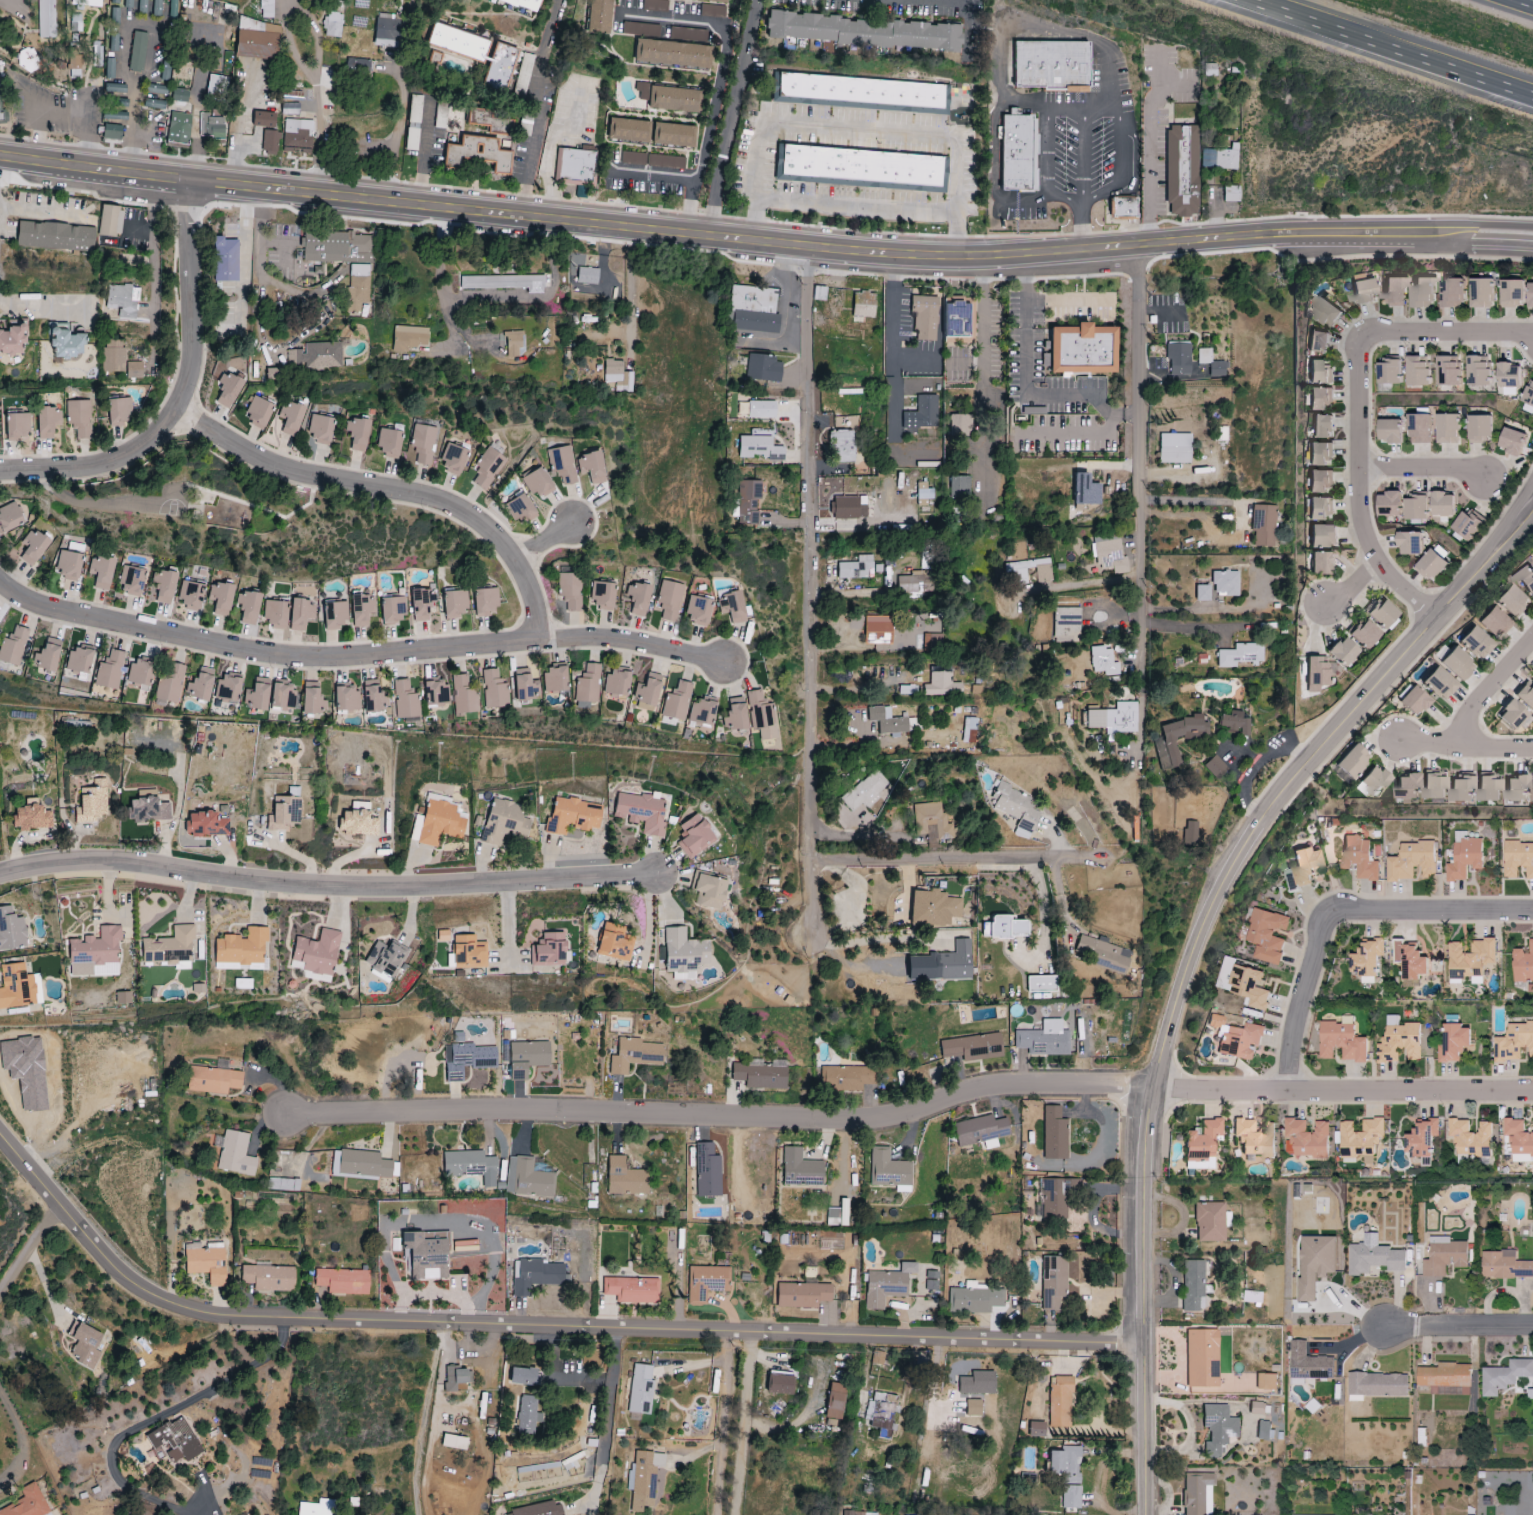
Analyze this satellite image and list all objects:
building: (114, 1)
building: (717, 1)
building: (89, 3)
building: (128, 3)
building: (527, 3)
road: (1520, 4)
building: (143, 6)
building: (157, 7)
building: (173, 8)
building: (266, 9)
building: (601, 15)
building: (45, 19)
building: (333, 25)
road: (160, 27)
building: (866, 31)
building: (387, 32)
building: (460, 41)
building: (259, 42)
road: (1391, 47)
building: (138, 52)
building: (674, 54)
building: (501, 65)
building: (1048, 65)
building: (74, 66)
building: (110, 68)
building: (357, 68)
building: (523, 75)
building: (326, 77)
road: (722, 82)
building: (217, 88)
building: (859, 90)
road: (318, 91)
building: (675, 99)
road: (404, 100)
road: (539, 106)
building: (290, 108)
building: (1184, 111)
building: (483, 117)
road: (731, 117)
building: (264, 119)
road: (236, 125)
building: (211, 126)
building: (180, 128)
road: (858, 128)
building: (630, 130)
building: (112, 132)
building: (675, 135)
building: (297, 136)
street lamp: (26, 139)
building: (269, 143)
road: (1149, 150)
road: (551, 151)
building: (479, 154)
building: (1012, 154)
road: (1083, 155)
building: (1227, 158)
building: (577, 166)
building: (857, 168)
building: (1183, 170)
road: (656, 179)
street lamp: (471, 187)
road: (1045, 193)
building: (1232, 193)
street lamp: (577, 198)
road: (1022, 198)
road: (854, 205)
road: (40, 209)
street lamp: (674, 209)
building: (1120, 209)
street lamp: (220, 213)
building: (110, 220)
road: (1082, 224)
building: (56, 236)
road: (764, 240)
building: (336, 247)
road: (244, 253)
building: (226, 260)
road: (153, 271)
building: (587, 276)
road: (440, 279)
building: (504, 283)
building: (357, 286)
building: (1366, 291)
building: (1400, 291)
building: (1428, 292)
building: (1458, 292)
building: (1488, 292)
building: (819, 293)
building: (1520, 293)
building: (123, 300)
building: (864, 304)
road: (40, 305)
building: (754, 309)
building: (1332, 310)
building: (925, 318)
building: (957, 319)
road: (891, 322)
road: (1450, 336)
building: (409, 338)
building: (13, 339)
building: (1322, 341)
building: (67, 343)
building: (514, 343)
building: (1081, 349)
building: (113, 356)
building: (316, 356)
building: (1179, 358)
building: (1212, 363)
building: (764, 368)
building: (134, 370)
building: (1483, 370)
building: (1393, 371)
building: (1423, 371)
building: (1453, 371)
building: (1324, 372)
building: (1513, 375)
building: (618, 376)
road: (985, 376)
road: (1026, 380)
road: (180, 390)
building: (228, 390)
building: (1530, 395)
building: (1324, 399)
building: (762, 410)
building: (259, 411)
building: (120, 412)
building: (920, 414)
building: (79, 418)
building: (291, 418)
building: (48, 421)
building: (960, 425)
building: (1327, 425)
building: (17, 426)
building: (1487, 427)
building: (1426, 428)
building: (1454, 428)
building: (321, 429)
building: (1397, 430)
building: (358, 434)
building: (1519, 441)
building: (390, 442)
building: (423, 444)
building: (843, 447)
building: (759, 448)
building: (1174, 448)
road: (1138, 453)
building: (1323, 454)
building: (455, 458)
building: (563, 465)
building: (593, 467)
building: (489, 468)
road: (1432, 471)
building: (1322, 481)
building: (539, 483)
building: (959, 487)
building: (1086, 490)
road: (386, 491)
road: (1366, 492)
building: (924, 494)
building: (748, 501)
road: (1193, 502)
building: (1394, 503)
building: (1448, 504)
building: (1420, 506)
building: (524, 508)
building: (849, 508)
building: (1322, 509)
building: (10, 517)
building: (1472, 524)
building: (1264, 525)
building: (1328, 536)
road: (542, 542)
building: (1416, 543)
building: (34, 547)
building: (1110, 556)
building: (1326, 563)
building: (1439, 564)
building: (69, 565)
building: (857, 568)
building: (101, 572)
building: (1016, 574)
building: (132, 580)
building: (915, 583)
road: (1087, 583)
building: (1225, 583)
building: (164, 587)
road: (811, 588)
road: (1361, 589)
building: (570, 592)
building: (1202, 593)
building: (191, 594)
building: (603, 595)
building: (222, 598)
building: (639, 599)
building: (670, 600)
building: (1515, 600)
building: (486, 602)
building: (423, 604)
building: (455, 604)
building: (250, 607)
building: (733, 607)
building: (362, 609)
building: (393, 610)
building: (699, 610)
building: (277, 614)
building: (302, 614)
building: (336, 614)
building: (1385, 614)
building: (1497, 622)
building: (1066, 625)
building: (879, 630)
building: (1367, 635)
building: (933, 641)
building: (1478, 642)
building: (14, 646)
building: (1346, 651)
building: (48, 655)
building: (1241, 656)
road: (358, 659)
building: (80, 660)
building: (1103, 661)
building: (1460, 664)
building: (110, 670)
building: (141, 673)
building: (1319, 674)
building: (556, 680)
building: (617, 683)
building: (1442, 683)
building: (170, 684)
building: (202, 684)
building: (588, 684)
building: (526, 686)
road: (863, 686)
road: (1489, 686)
building: (228, 688)
building: (494, 690)
building: (436, 693)
building: (648, 693)
building: (258, 694)
building: (1526, 694)
building: (284, 695)
building: (464, 696)
building: (375, 697)
building: (347, 698)
building: (314, 699)
building: (406, 700)
building: (678, 701)
building: (1417, 701)
road: (1140, 708)
building: (703, 713)
building: (737, 714)
building: (762, 716)
building: (1114, 718)
building: (887, 722)
building: (1236, 723)
building: (969, 730)
building: (1180, 738)
road: (1429, 742)
road: (1496, 744)
building: (1356, 762)
building: (1215, 767)
building: (1379, 781)
building: (1438, 785)
building: (1411, 786)
building: (1466, 788)
building: (1493, 789)
building: (1521, 789)
building: (864, 791)
building: (93, 805)
building: (148, 810)
building: (1016, 810)
building: (642, 812)
building: (285, 814)
building: (33, 816)
building: (573, 816)
building: (931, 820)
building: (358, 823)
building: (505, 823)
building: (437, 824)
building: (207, 825)
building: (1190, 833)
building: (695, 836)
road: (854, 837)
building: (1362, 857)
building: (1469, 858)
building: (1520, 858)
road: (924, 859)
building: (1416, 861)
building: (1310, 866)
building: (1297, 880)
road: (329, 885)
building: (710, 889)
building: (935, 909)
road: (1338, 911)
road: (507, 924)
building: (1007, 928)
building: (12, 930)
building: (1272, 934)
road: (871, 939)
building: (616, 943)
building: (242, 948)
building: (549, 951)
building: (318, 953)
building: (470, 953)
building: (1102, 953)
building: (96, 954)
building: (685, 954)
road: (1199, 954)
building: (1476, 959)
building: (386, 960)
building: (1373, 960)
building: (1419, 962)
building: (943, 964)
building: (1525, 965)
building: (1042, 984)
building: (17, 987)
building: (124, 998)
building: (1044, 1039)
building: (1239, 1039)
building: (1402, 1040)
building: (1346, 1042)
building: (1517, 1042)
building: (1459, 1043)
building: (973, 1047)
building: (635, 1055)
building: (528, 1058)
building: (468, 1060)
building: (760, 1076)
building: (846, 1078)
building: (214, 1080)
road: (1343, 1091)
road: (720, 1118)
building: (980, 1130)
building: (1054, 1133)
building: (1475, 1137)
building: (1257, 1138)
building: (1310, 1138)
building: (1364, 1138)
building: (1521, 1138)
building: (1426, 1140)
building: (1204, 1145)
building: (236, 1154)
building: (363, 1164)
building: (471, 1165)
building: (801, 1169)
building: (707, 1170)
building: (890, 1170)
building: (626, 1177)
building: (527, 1178)
building: (1054, 1199)
building: (838, 1214)
building: (460, 1218)
building: (1211, 1221)
building: (465, 1246)
road: (28, 1250)
building: (428, 1254)
building: (1448, 1256)
building: (1378, 1258)
building: (207, 1263)
building: (1320, 1263)
building: (1507, 1264)
building: (536, 1276)
building: (269, 1277)
building: (931, 1280)
building: (344, 1281)
building: (706, 1282)
building: (1053, 1282)
building: (887, 1285)
building: (1193, 1285)
building: (632, 1289)
building: (803, 1294)
building: (1252, 1296)
building: (974, 1300)
road: (1459, 1325)
road: (535, 1327)
building: (86, 1344)
building: (1203, 1358)
building: (1311, 1362)
road: (865, 1366)
building: (1449, 1374)
building: (525, 1375)
building: (1507, 1375)
building: (455, 1377)
building: (1268, 1381)
building: (781, 1382)
building: (978, 1383)
building: (1381, 1384)
building: (641, 1389)
building: (1531, 1393)
building: (837, 1401)
building: (1060, 1402)
building: (1259, 1408)
building: (528, 1415)
building: (880, 1415)
road: (159, 1418)
road: (425, 1419)
road: (723, 1423)
road: (743, 1423)
road: (604, 1427)
building: (1219, 1428)
building: (1037, 1429)
building: (1267, 1429)
building: (1425, 1436)
road: (20, 1439)
building: (176, 1440)
building: (455, 1442)
building: (1068, 1473)
building: (643, 1480)
building: (1198, 1494)
building: (28, 1503)
building: (316, 1508)
building: (539, 1510)
building: (859, 1513)
building: (1296, 1514)

